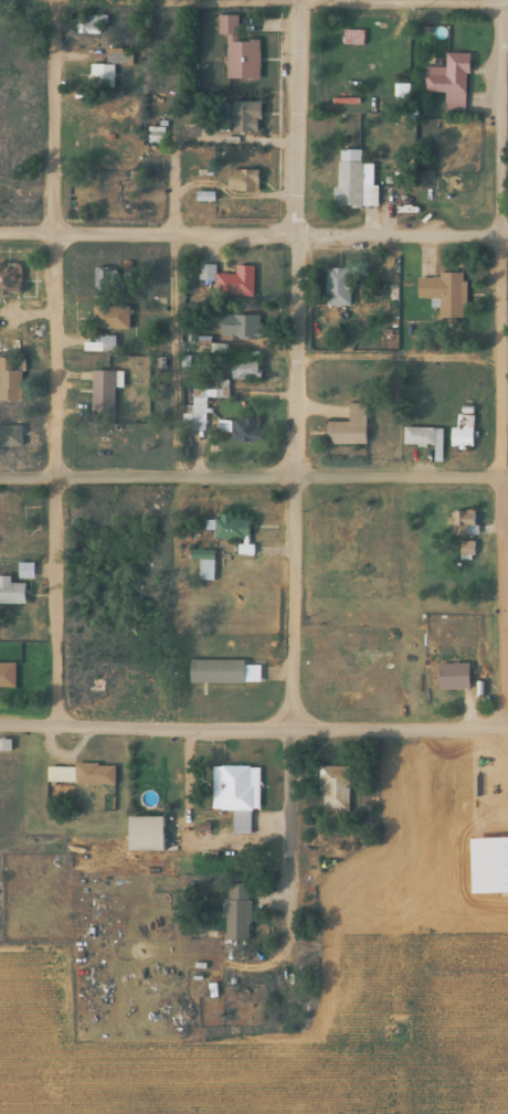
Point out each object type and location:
road: (404, 0)
building: (86, 24)
building: (352, 38)
building: (237, 52)
building: (107, 70)
building: (449, 81)
building: (244, 117)
building: (155, 136)
building: (242, 182)
building: (352, 188)
building: (10, 193)
road: (253, 235)
building: (9, 279)
building: (227, 280)
building: (103, 283)
building: (336, 287)
building: (444, 294)
building: (108, 318)
building: (237, 328)
building: (103, 342)
road: (52, 363)
road: (496, 364)
building: (244, 370)
building: (10, 380)
building: (102, 393)
building: (348, 428)
building: (243, 432)
building: (464, 433)
building: (10, 436)
building: (423, 438)
road: (297, 473)
road: (253, 477)
building: (461, 521)
building: (227, 528)
building: (243, 549)
building: (464, 550)
building: (202, 563)
building: (23, 570)
building: (10, 592)
building: (215, 671)
building: (7, 676)
building: (452, 677)
road: (254, 726)
building: (78, 774)
building: (332, 788)
building: (235, 796)
building: (145, 832)
building: (488, 864)
building: (235, 911)

